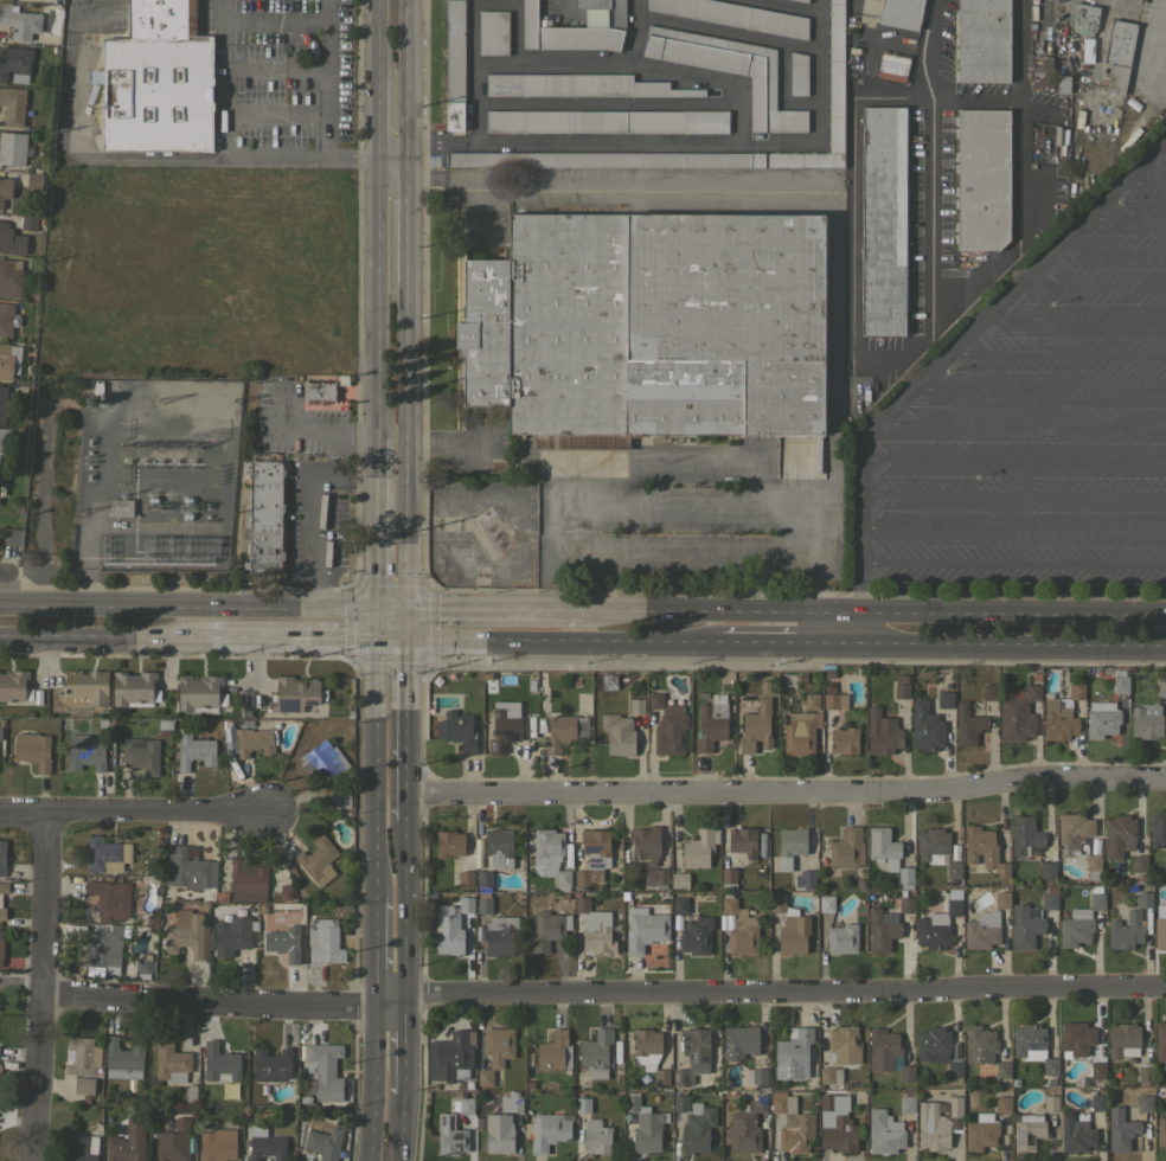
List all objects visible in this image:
building: (796, 0)
building: (802, 0)
building: (591, 4)
road: (864, 4)
building: (901, 13)
building: (733, 15)
building: (161, 18)
building: (1083, 18)
building: (19, 20)
building: (572, 31)
building: (493, 32)
road: (373, 40)
building: (982, 40)
building: (1087, 49)
building: (1119, 54)
building: (15, 63)
building: (454, 64)
building: (892, 66)
building: (730, 71)
building: (1042, 71)
building: (797, 73)
building: (837, 76)
road: (222, 79)
road: (328, 79)
road: (406, 79)
building: (1063, 84)
building: (578, 85)
road: (969, 90)
building: (159, 92)
building: (13, 105)
road: (372, 120)
building: (607, 121)
road: (610, 145)
road: (1161, 145)
building: (12, 148)
road: (162, 159)
building: (981, 178)
building: (34, 179)
road: (1143, 181)
building: (5, 188)
road: (628, 190)
road: (1126, 217)
building: (883, 220)
road: (406, 222)
building: (28, 223)
road: (1020, 227)
building: (7, 237)
road: (1109, 250)
building: (9, 277)
road: (1090, 284)
road: (372, 297)
road: (1075, 317)
building: (7, 319)
building: (647, 327)
road: (953, 347)
road: (832, 352)
road: (1057, 352)
building: (8, 360)
road: (850, 364)
road: (1040, 387)
building: (319, 391)
building: (2, 403)
road: (1024, 423)
road: (334, 437)
building: (4, 441)
road: (405, 448)
road: (1013, 462)
road: (696, 463)
power substation: (154, 474)
building: (2, 479)
road: (1013, 495)
road: (686, 503)
building: (18, 507)
building: (120, 507)
road: (318, 513)
building: (265, 517)
road: (373, 524)
road: (1013, 527)
building: (11, 537)
road: (688, 553)
road: (1013, 563)
road: (5, 575)
road: (201, 608)
traffic signals: (372, 611)
traffic signals: (405, 611)
road: (491, 611)
road: (696, 611)
road: (837, 612)
road: (1012, 614)
road: (406, 624)
road: (816, 628)
road: (857, 628)
road: (100, 633)
road: (286, 636)
traffic signals: (372, 637)
traffic signals: (408, 639)
road: (371, 640)
road: (545, 640)
road: (768, 642)
road: (837, 643)
road: (1011, 643)
building: (828, 673)
building: (802, 678)
building: (608, 681)
building: (1119, 682)
building: (14, 685)
building: (660, 685)
building: (901, 686)
building: (85, 687)
building: (764, 687)
building: (134, 688)
building: (1161, 688)
building: (829, 689)
building: (988, 692)
building: (1076, 692)
building: (200, 693)
building: (295, 693)
building: (944, 699)
building: (655, 700)
building: (834, 700)
rooftop solar panel: (295, 701)
rooftop solar panel: (313, 701)
building: (812, 701)
rooftop solar panel: (287, 704)
building: (636, 705)
building: (1017, 713)
building: (1057, 719)
building: (1101, 719)
building: (1147, 720)
building: (711, 723)
building: (504, 725)
building: (539, 725)
building: (967, 725)
building: (756, 726)
building: (924, 726)
road: (411, 729)
building: (457, 730)
building: (670, 731)
building: (882, 732)
building: (558, 733)
building: (617, 733)
building: (797, 733)
building: (229, 738)
building: (844, 739)
building: (255, 740)
building: (1, 744)
building: (193, 749)
building: (33, 750)
building: (84, 752)
building: (141, 755)
building: (322, 758)
road: (372, 782)
road: (789, 790)
building: (339, 796)
road: (134, 809)
building: (1075, 829)
building: (1158, 829)
building: (1025, 835)
building: (1119, 835)
building: (742, 840)
building: (449, 842)
building: (478, 845)
building: (645, 845)
building: (931, 845)
building: (1096, 845)
building: (789, 846)
building: (699, 847)
building: (883, 847)
building: (499, 848)
building: (846, 848)
building: (984, 849)
building: (953, 853)
building: (107, 854)
building: (594, 855)
building: (2, 857)
building: (550, 857)
building: (318, 860)
building: (478, 860)
building: (578, 862)
building: (1139, 862)
building: (187, 867)
building: (1093, 867)
building: (954, 870)
building: (1048, 870)
building: (728, 874)
building: (905, 874)
building: (655, 877)
building: (466, 878)
building: (805, 878)
building: (679, 879)
building: (483, 880)
building: (246, 881)
building: (726, 886)
building: (1095, 890)
building: (282, 893)
rooftop solar panel: (957, 894)
building: (109, 898)
building: (1000, 899)
building: (0, 900)
building: (1049, 900)
building: (1096, 900)
building: (953, 903)
building: (679, 904)
building: (776, 904)
building: (826, 904)
building: (905, 904)
building: (463, 905)
building: (483, 905)
road: (410, 910)
building: (1128, 925)
building: (1025, 926)
building: (1160, 926)
building: (592, 928)
building: (739, 928)
building: (1075, 929)
building: (547, 930)
building: (646, 930)
building: (882, 930)
building: (982, 930)
building: (447, 931)
building: (933, 931)
building: (479, 932)
building: (206, 934)
building: (793, 934)
building: (500, 935)
building: (696, 935)
building: (841, 938)
building: (323, 941)
building: (283, 942)
building: (1, 945)
road: (374, 948)
building: (103, 949)
building: (142, 966)
road: (41, 984)
road: (786, 995)
road: (116, 1000)
road: (299, 1000)
building: (1076, 1038)
building: (1123, 1039)
building: (739, 1040)
building: (1160, 1041)
building: (980, 1044)
building: (498, 1045)
building: (844, 1045)
road: (404, 1046)
building: (1033, 1046)
building: (795, 1048)
building: (553, 1051)
building: (938, 1051)
building: (955, 1051)
building: (596, 1052)
building: (649, 1052)
building: (888, 1053)
building: (693, 1054)
rooftop solar panel: (693, 1054)
building: (81, 1056)
building: (451, 1056)
building: (123, 1059)
building: (171, 1063)
building: (217, 1063)
building: (485, 1063)
building: (271, 1064)
building: (991, 1069)
building: (1002, 1069)
building: (1097, 1070)
building: (323, 1071)
building: (980, 1072)
building: (1145, 1072)
building: (829, 1075)
building: (745, 1076)
building: (758, 1076)
building: (991, 1076)
building: (483, 1077)
building: (494, 1077)
road: (370, 1079)
building: (617, 1079)
building: (1049, 1083)
building: (468, 1084)
building: (83, 1085)
building: (460, 1085)
building: (530, 1085)
building: (430, 1086)
building: (641, 1089)
building: (190, 1092)
building: (1164, 1092)
building: (511, 1102)
building: (630, 1102)
building: (1050, 1103)
building: (1097, 1103)
building: (1145, 1103)
building: (583, 1104)
building: (906, 1104)
building: (1002, 1104)
building: (466, 1105)
building: (643, 1110)
building: (938, 1122)
building: (694, 1123)
building: (792, 1123)
building: (835, 1123)
building: (747, 1125)
road: (402, 1127)
building: (1120, 1129)
building: (547, 1130)
building: (1026, 1130)
building: (496, 1131)
building: (648, 1131)
building: (884, 1131)
building: (981, 1131)
building: (1076, 1131)
building: (1161, 1131)
building: (449, 1135)
building: (596, 1135)
building: (323, 1140)
building: (173, 1142)
building: (217, 1144)
building: (265, 1144)
building: (81, 1148)
building: (123, 1149)

